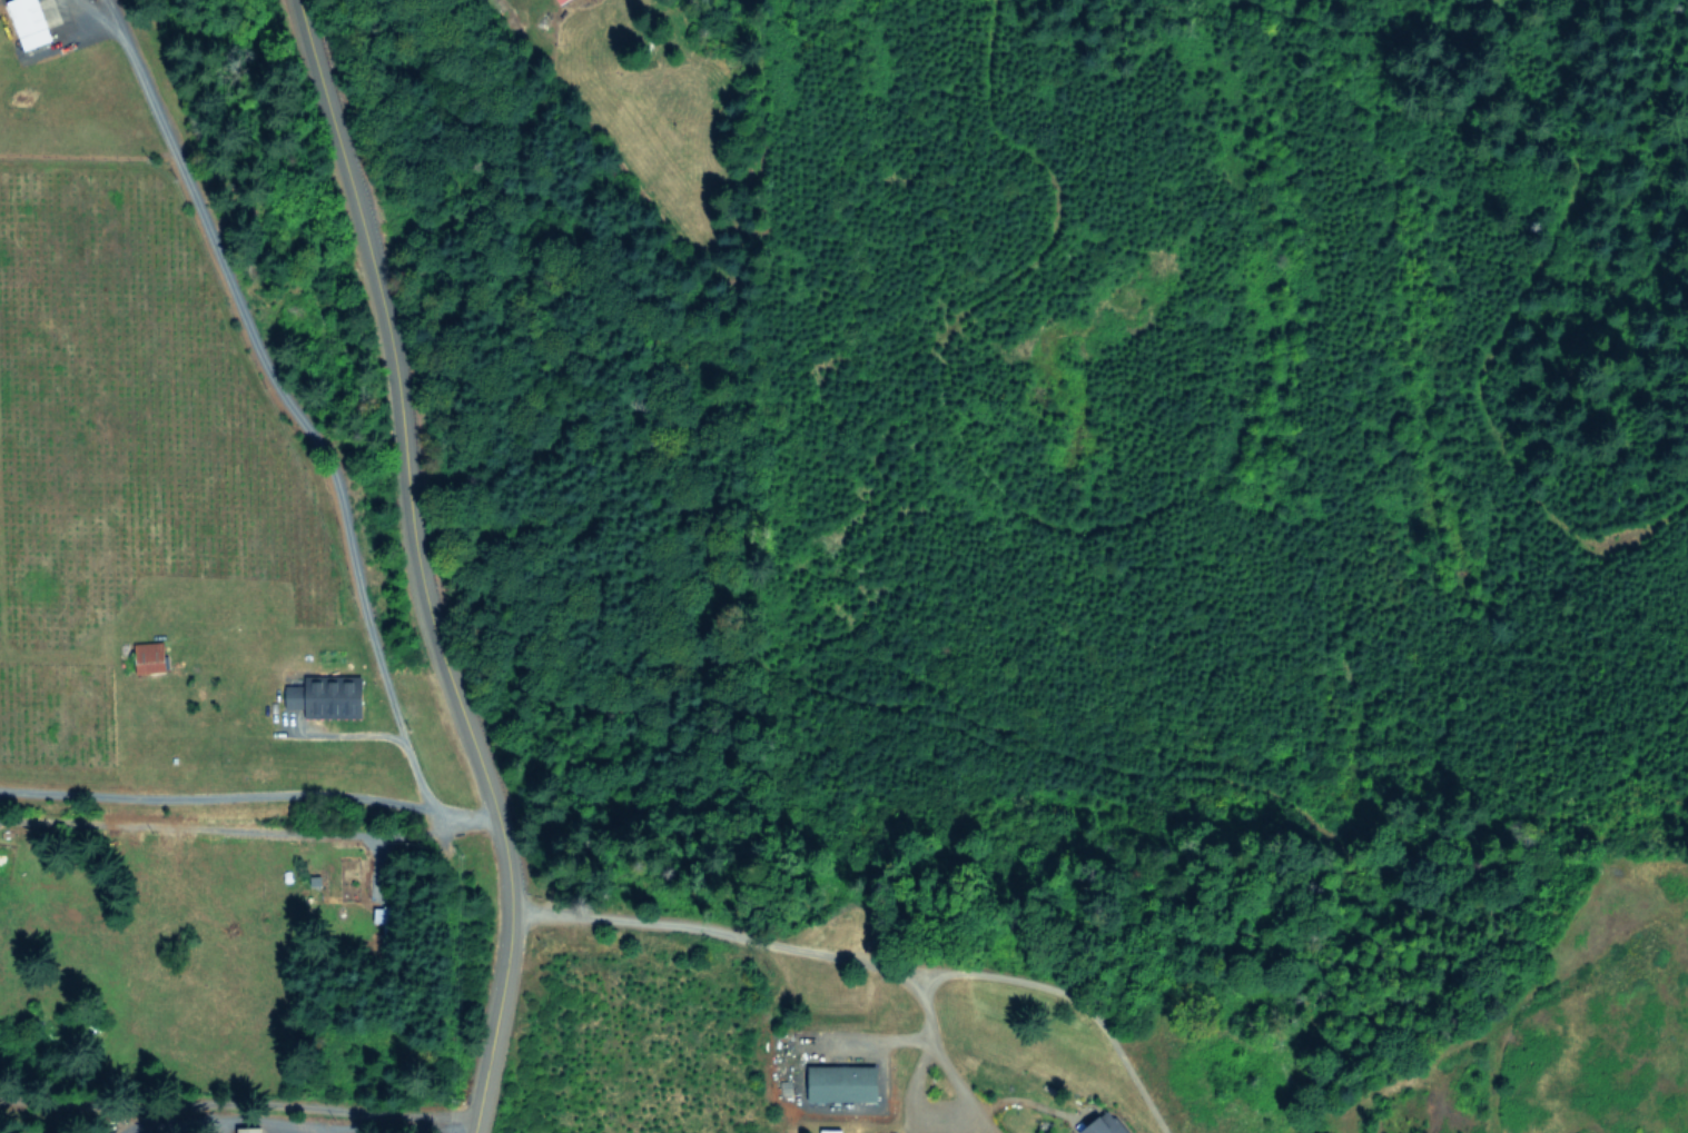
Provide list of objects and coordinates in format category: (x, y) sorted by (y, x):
building: (560, 1)
building: (31, 22)
road: (307, 426)
road: (411, 565)
building: (150, 656)
building: (296, 696)
building: (335, 696)
road: (214, 797)
building: (382, 913)
road: (843, 961)
road: (1065, 1001)
building: (846, 1083)
road: (1029, 1102)
road: (231, 1103)
road: (984, 1122)
building: (1107, 1125)
building: (248, 1130)

